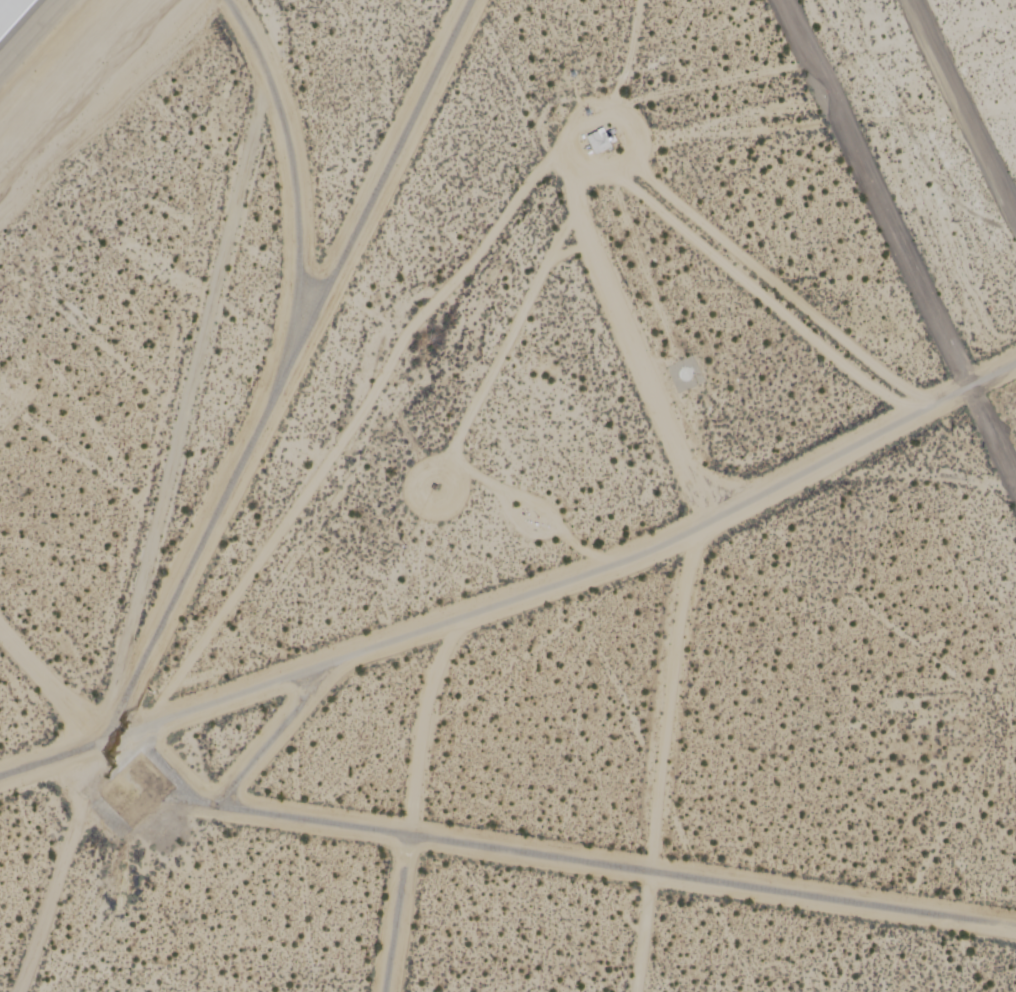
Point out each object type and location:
building: (610, 135)
building: (599, 144)
airport: (508, 496)
building: (146, 774)

